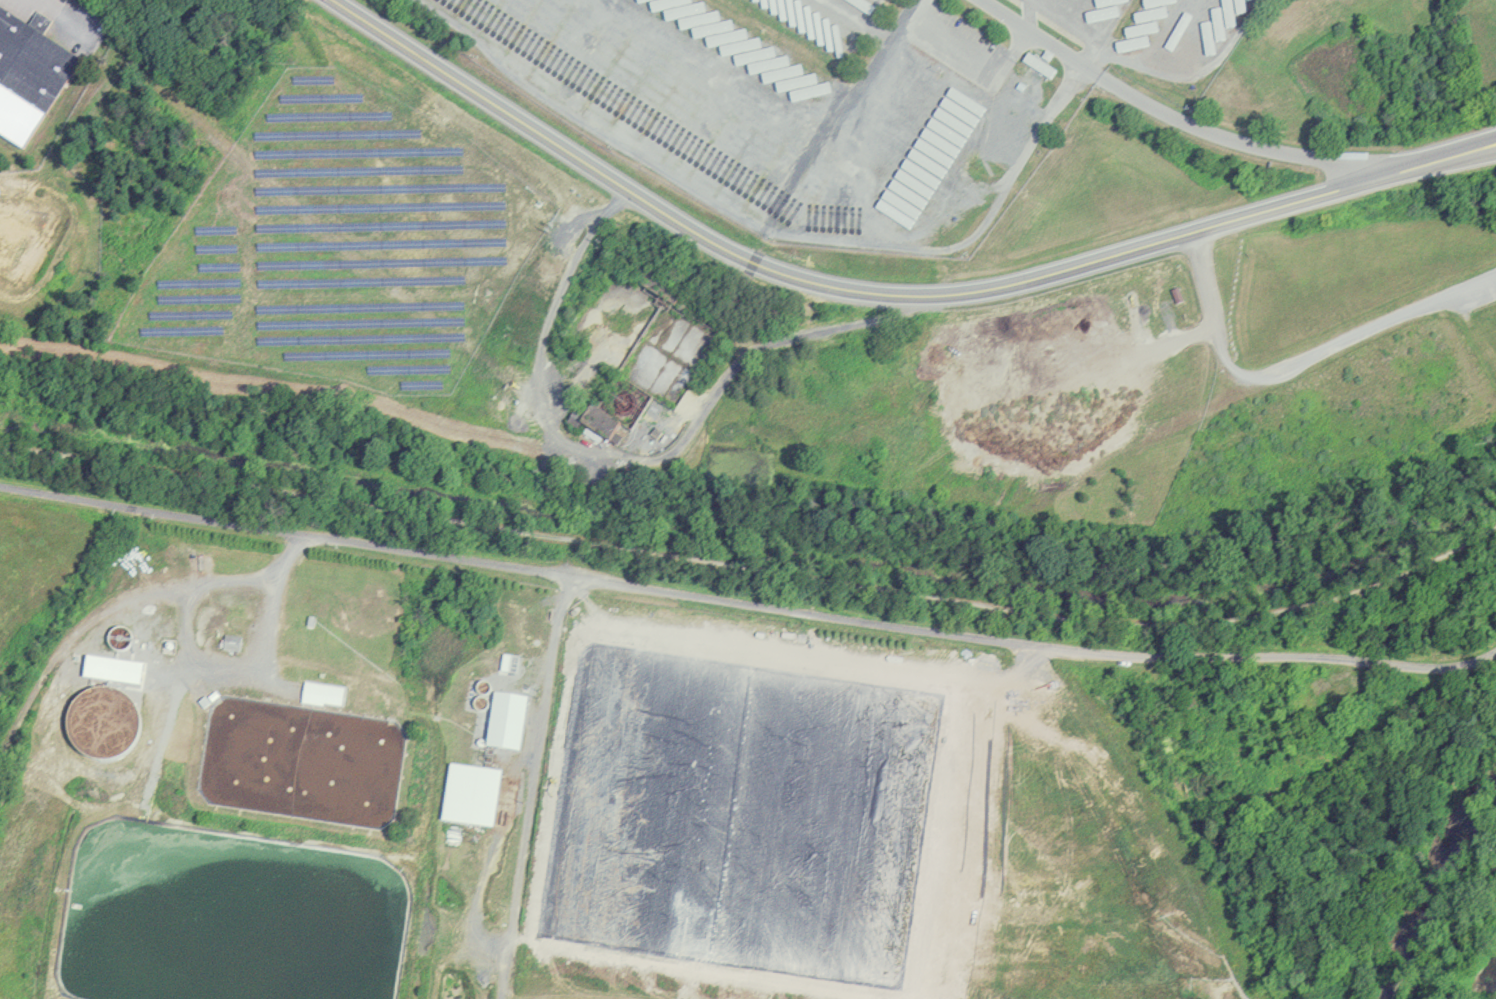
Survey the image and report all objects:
building: (825, 21)
building: (1036, 62)
building: (630, 72)
building: (29, 75)
road: (1185, 123)
building: (925, 160)
building: (792, 170)
road: (884, 294)
road: (1298, 364)
road: (733, 369)
building: (599, 425)
road: (754, 569)
road: (747, 603)
road: (279, 609)
building: (230, 642)
building: (112, 671)
building: (321, 694)
building: (203, 702)
building: (505, 721)
road: (531, 786)
building: (470, 795)
wastewater plant: (545, 798)
building: (743, 808)

